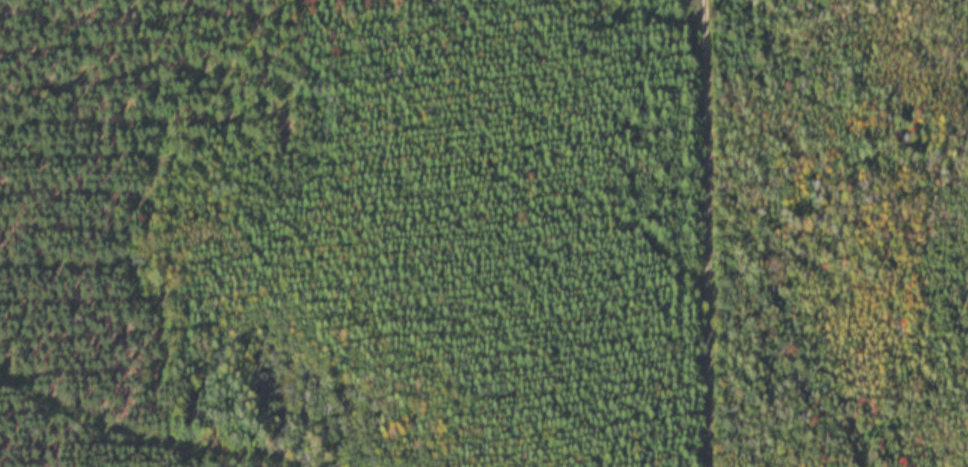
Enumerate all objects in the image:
road: (698, 233)
road: (119, 437)

